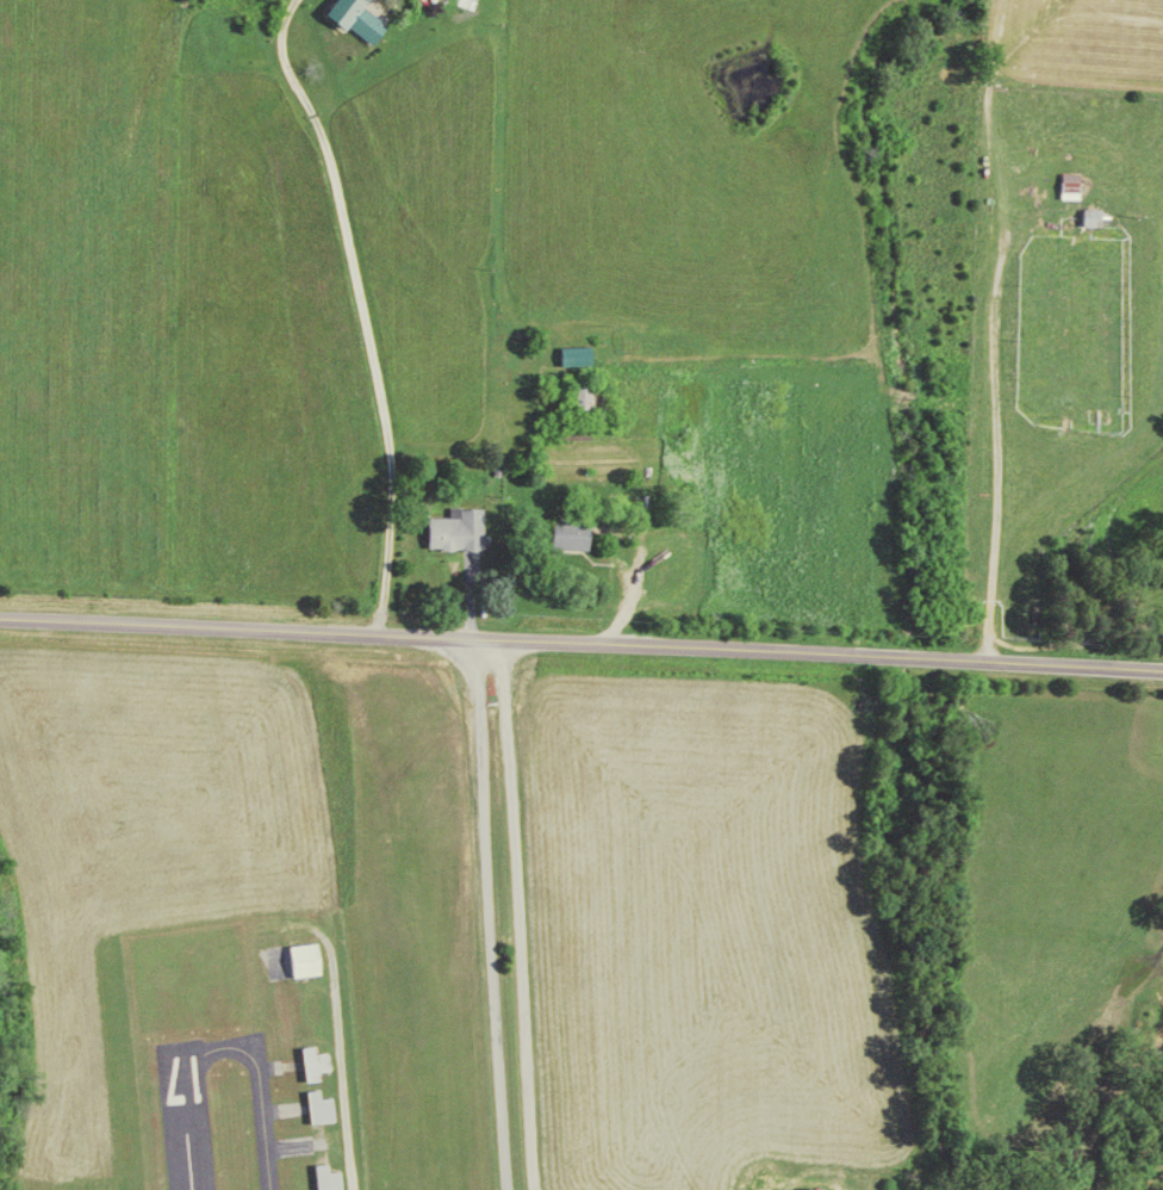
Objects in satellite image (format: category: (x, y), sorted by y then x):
building: (353, 16)
building: (1074, 185)
building: (1094, 217)
road: (363, 308)
building: (574, 352)
building: (586, 390)
building: (573, 424)
building: (450, 528)
building: (566, 532)
road: (581, 639)
road: (512, 913)
building: (301, 957)
building: (311, 1060)
airport taxiway: (261, 1077)
building: (317, 1105)
airport runway: (179, 1120)
building: (324, 1177)
building: (814, 1188)

